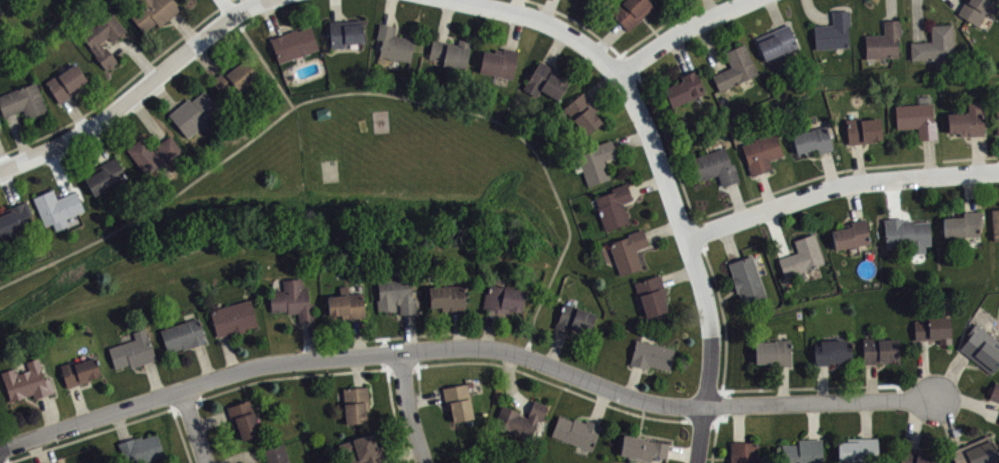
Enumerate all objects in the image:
building: (22, 0)
building: (193, 0)
road: (246, 3)
road: (957, 3)
road: (517, 6)
road: (711, 6)
building: (977, 9)
road: (546, 10)
road: (891, 10)
building: (631, 11)
building: (154, 13)
road: (775, 13)
road: (815, 14)
road: (917, 20)
road: (547, 22)
road: (659, 27)
road: (681, 29)
road: (514, 30)
building: (833, 31)
building: (345, 33)
road: (607, 36)
building: (102, 39)
building: (884, 40)
building: (776, 41)
building: (294, 44)
building: (394, 44)
building: (934, 44)
road: (709, 45)
road: (554, 47)
building: (449, 53)
road: (681, 54)
road: (264, 60)
building: (498, 62)
building: (735, 67)
building: (236, 78)
building: (545, 81)
road: (602, 82)
building: (64, 84)
road: (121, 86)
building: (684, 90)
road: (356, 91)
road: (138, 92)
building: (23, 102)
building: (582, 112)
building: (194, 114)
building: (323, 114)
building: (917, 118)
building: (967, 119)
building: (998, 119)
building: (862, 128)
building: (0, 132)
road: (631, 139)
building: (812, 139)
road: (977, 152)
building: (761, 153)
building: (154, 155)
road: (929, 155)
road: (971, 157)
road: (858, 160)
building: (597, 161)
building: (715, 166)
road: (829, 167)
park: (330, 169)
building: (107, 178)
road: (803, 180)
road: (647, 183)
road: (838, 184)
road: (765, 190)
road: (971, 191)
road: (893, 197)
road: (737, 200)
road: (854, 200)
road: (673, 201)
road: (689, 203)
park: (320, 204)
building: (614, 205)
building: (57, 209)
building: (14, 219)
building: (995, 223)
building: (964, 224)
road: (664, 228)
road: (776, 232)
building: (850, 233)
building: (906, 233)
road: (729, 242)
building: (628, 250)
building: (802, 255)
road: (680, 273)
building: (745, 278)
building: (651, 295)
building: (395, 296)
building: (449, 296)
building: (505, 297)
building: (293, 301)
building: (344, 305)
building: (575, 318)
building: (234, 320)
building: (934, 330)
road: (421, 332)
building: (183, 334)
road: (555, 346)
building: (133, 349)
building: (982, 349)
building: (881, 352)
building: (833, 353)
building: (652, 354)
building: (774, 354)
road: (351, 355)
road: (358, 369)
building: (80, 370)
road: (419, 376)
building: (28, 380)
road: (633, 380)
road: (809, 386)
building: (995, 394)
road: (820, 399)
road: (705, 400)
building: (458, 403)
building: (354, 406)
road: (394, 408)
road: (408, 408)
building: (0, 413)
building: (242, 420)
building: (521, 420)
road: (195, 425)
road: (180, 428)
building: (577, 433)
building: (643, 449)
building: (142, 450)
building: (361, 451)
building: (858, 451)
building: (803, 452)
building: (744, 453)
building: (977, 453)
building: (275, 455)
building: (916, 457)

